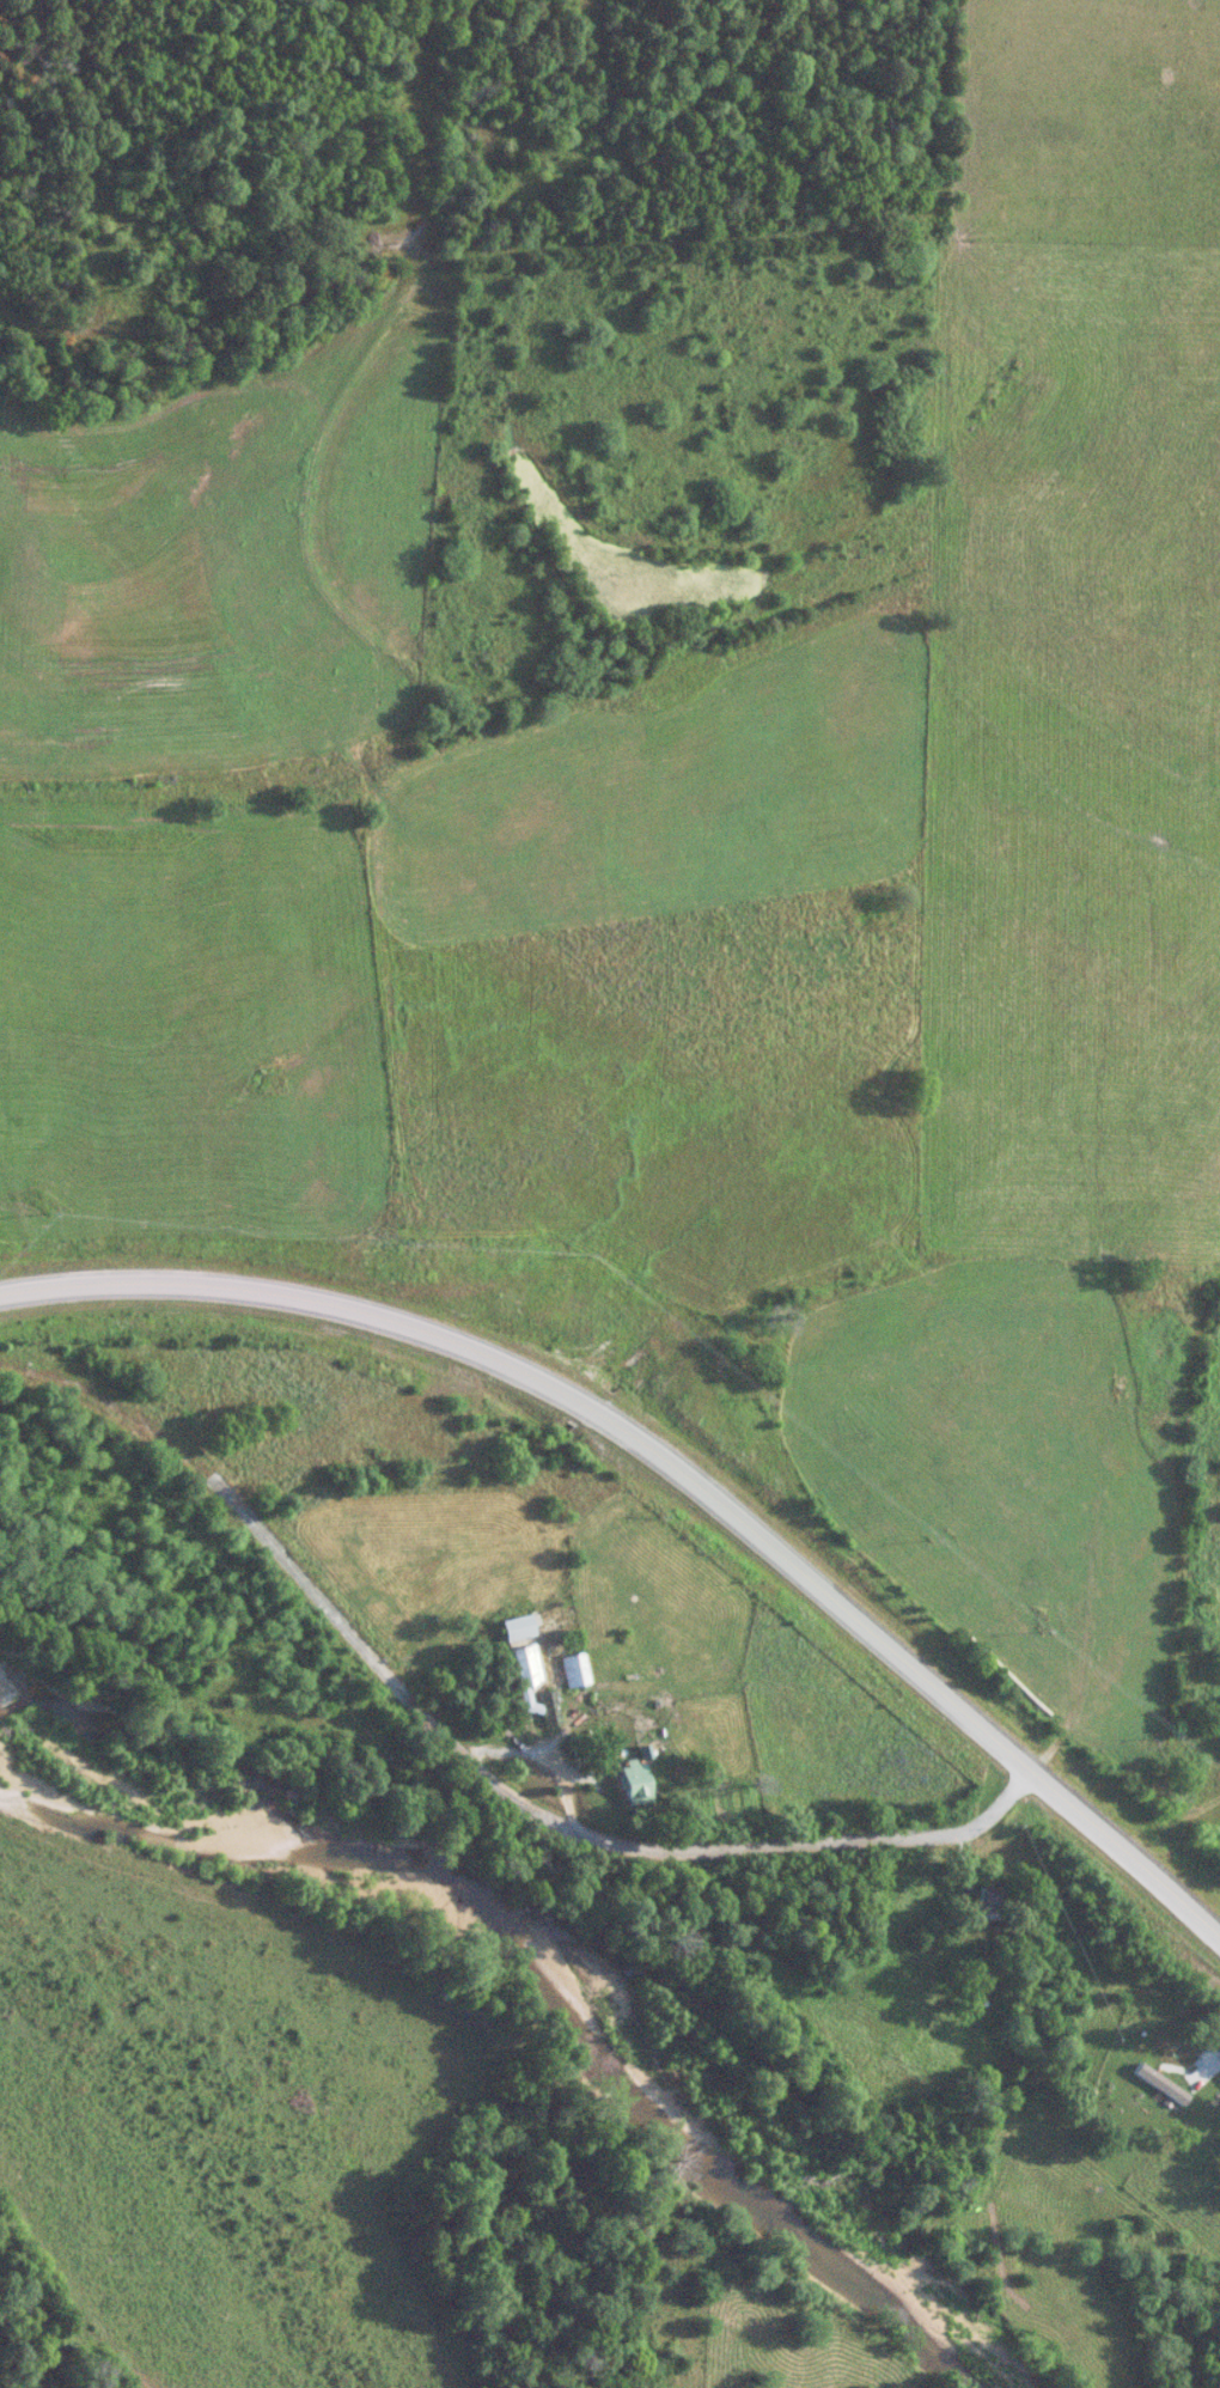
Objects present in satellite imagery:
road: (678, 1466)
building: (507, 1627)
building: (572, 1668)
building: (517, 1671)
building: (621, 1783)
road: (560, 1829)
road: (1208, 2069)

